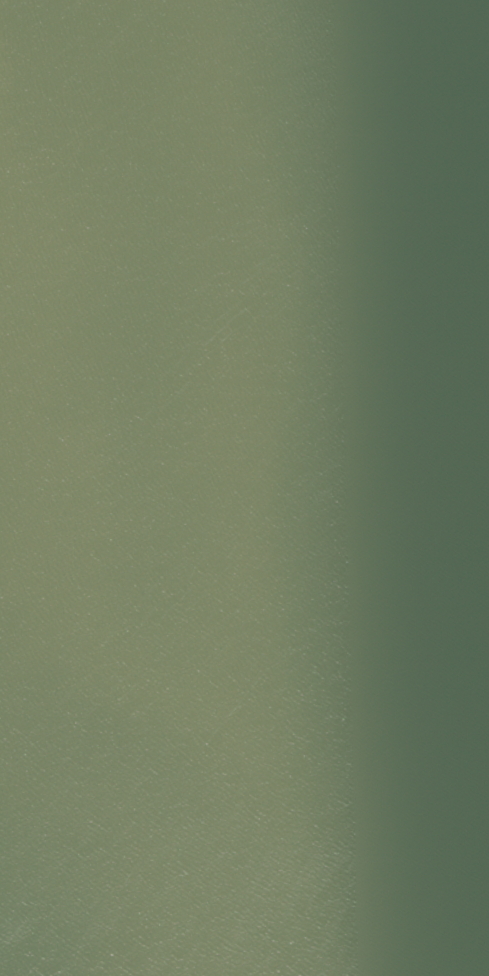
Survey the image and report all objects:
river: (335, 107)

